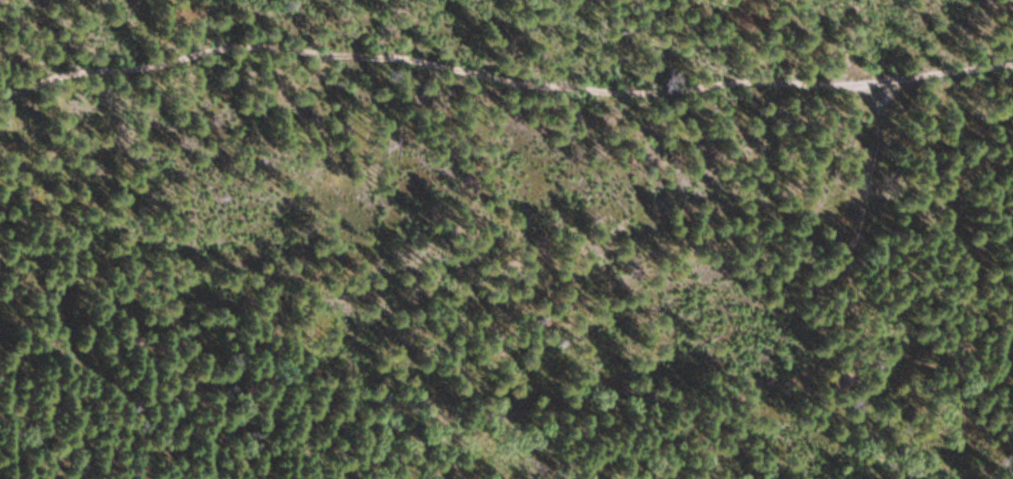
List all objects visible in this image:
road: (819, 41)
road: (503, 77)
road: (849, 311)

